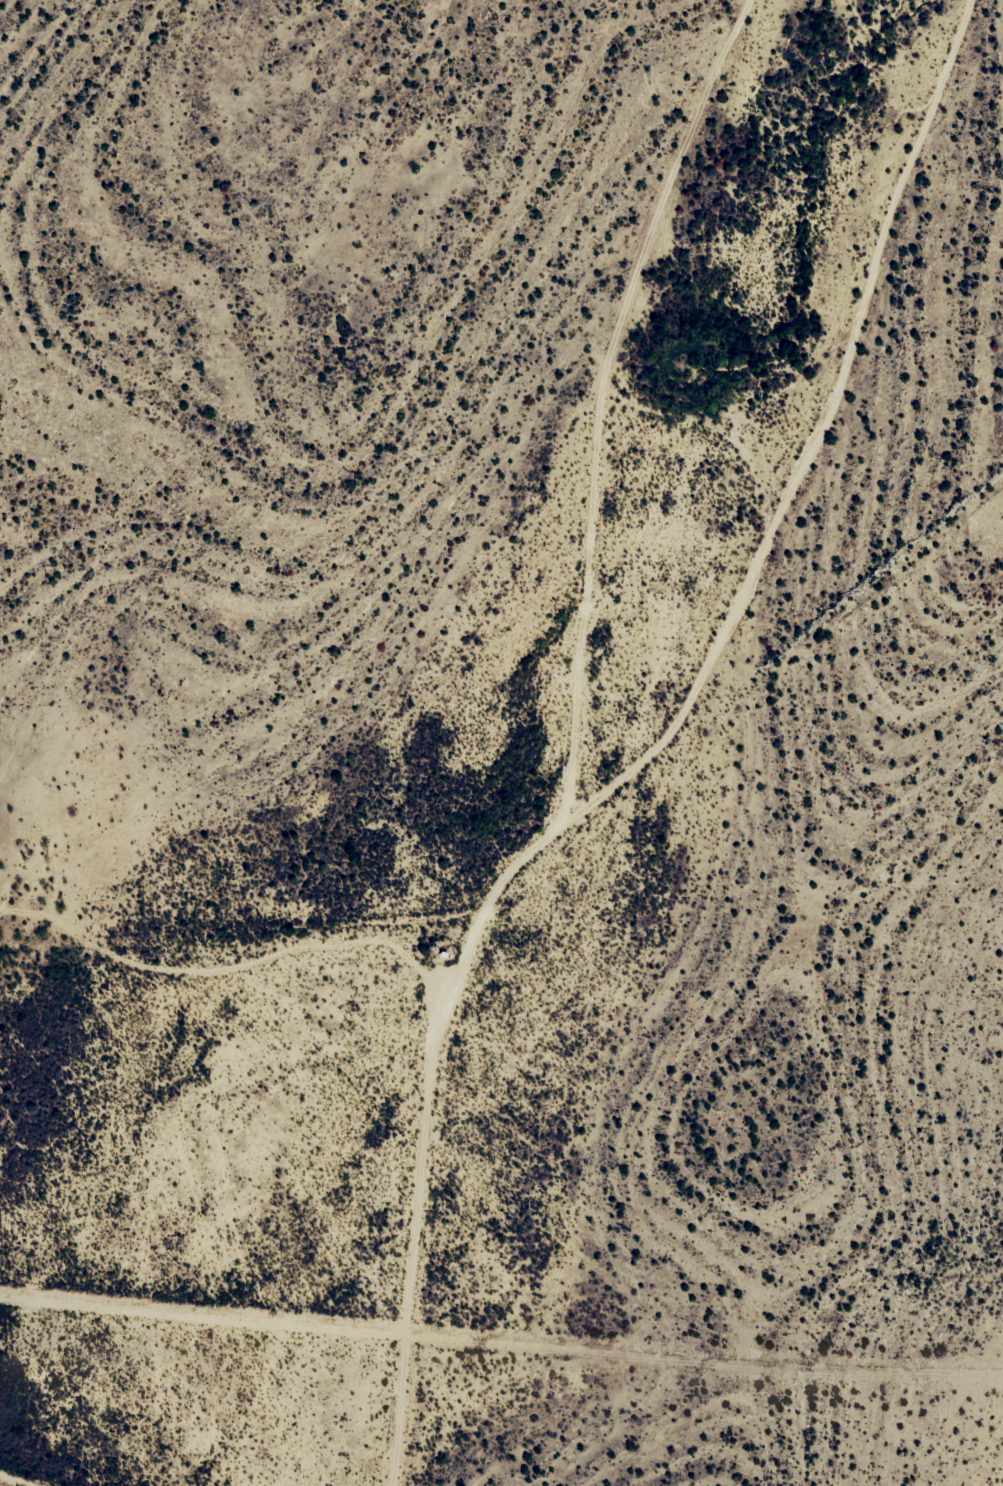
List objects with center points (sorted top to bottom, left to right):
road: (604, 731)

